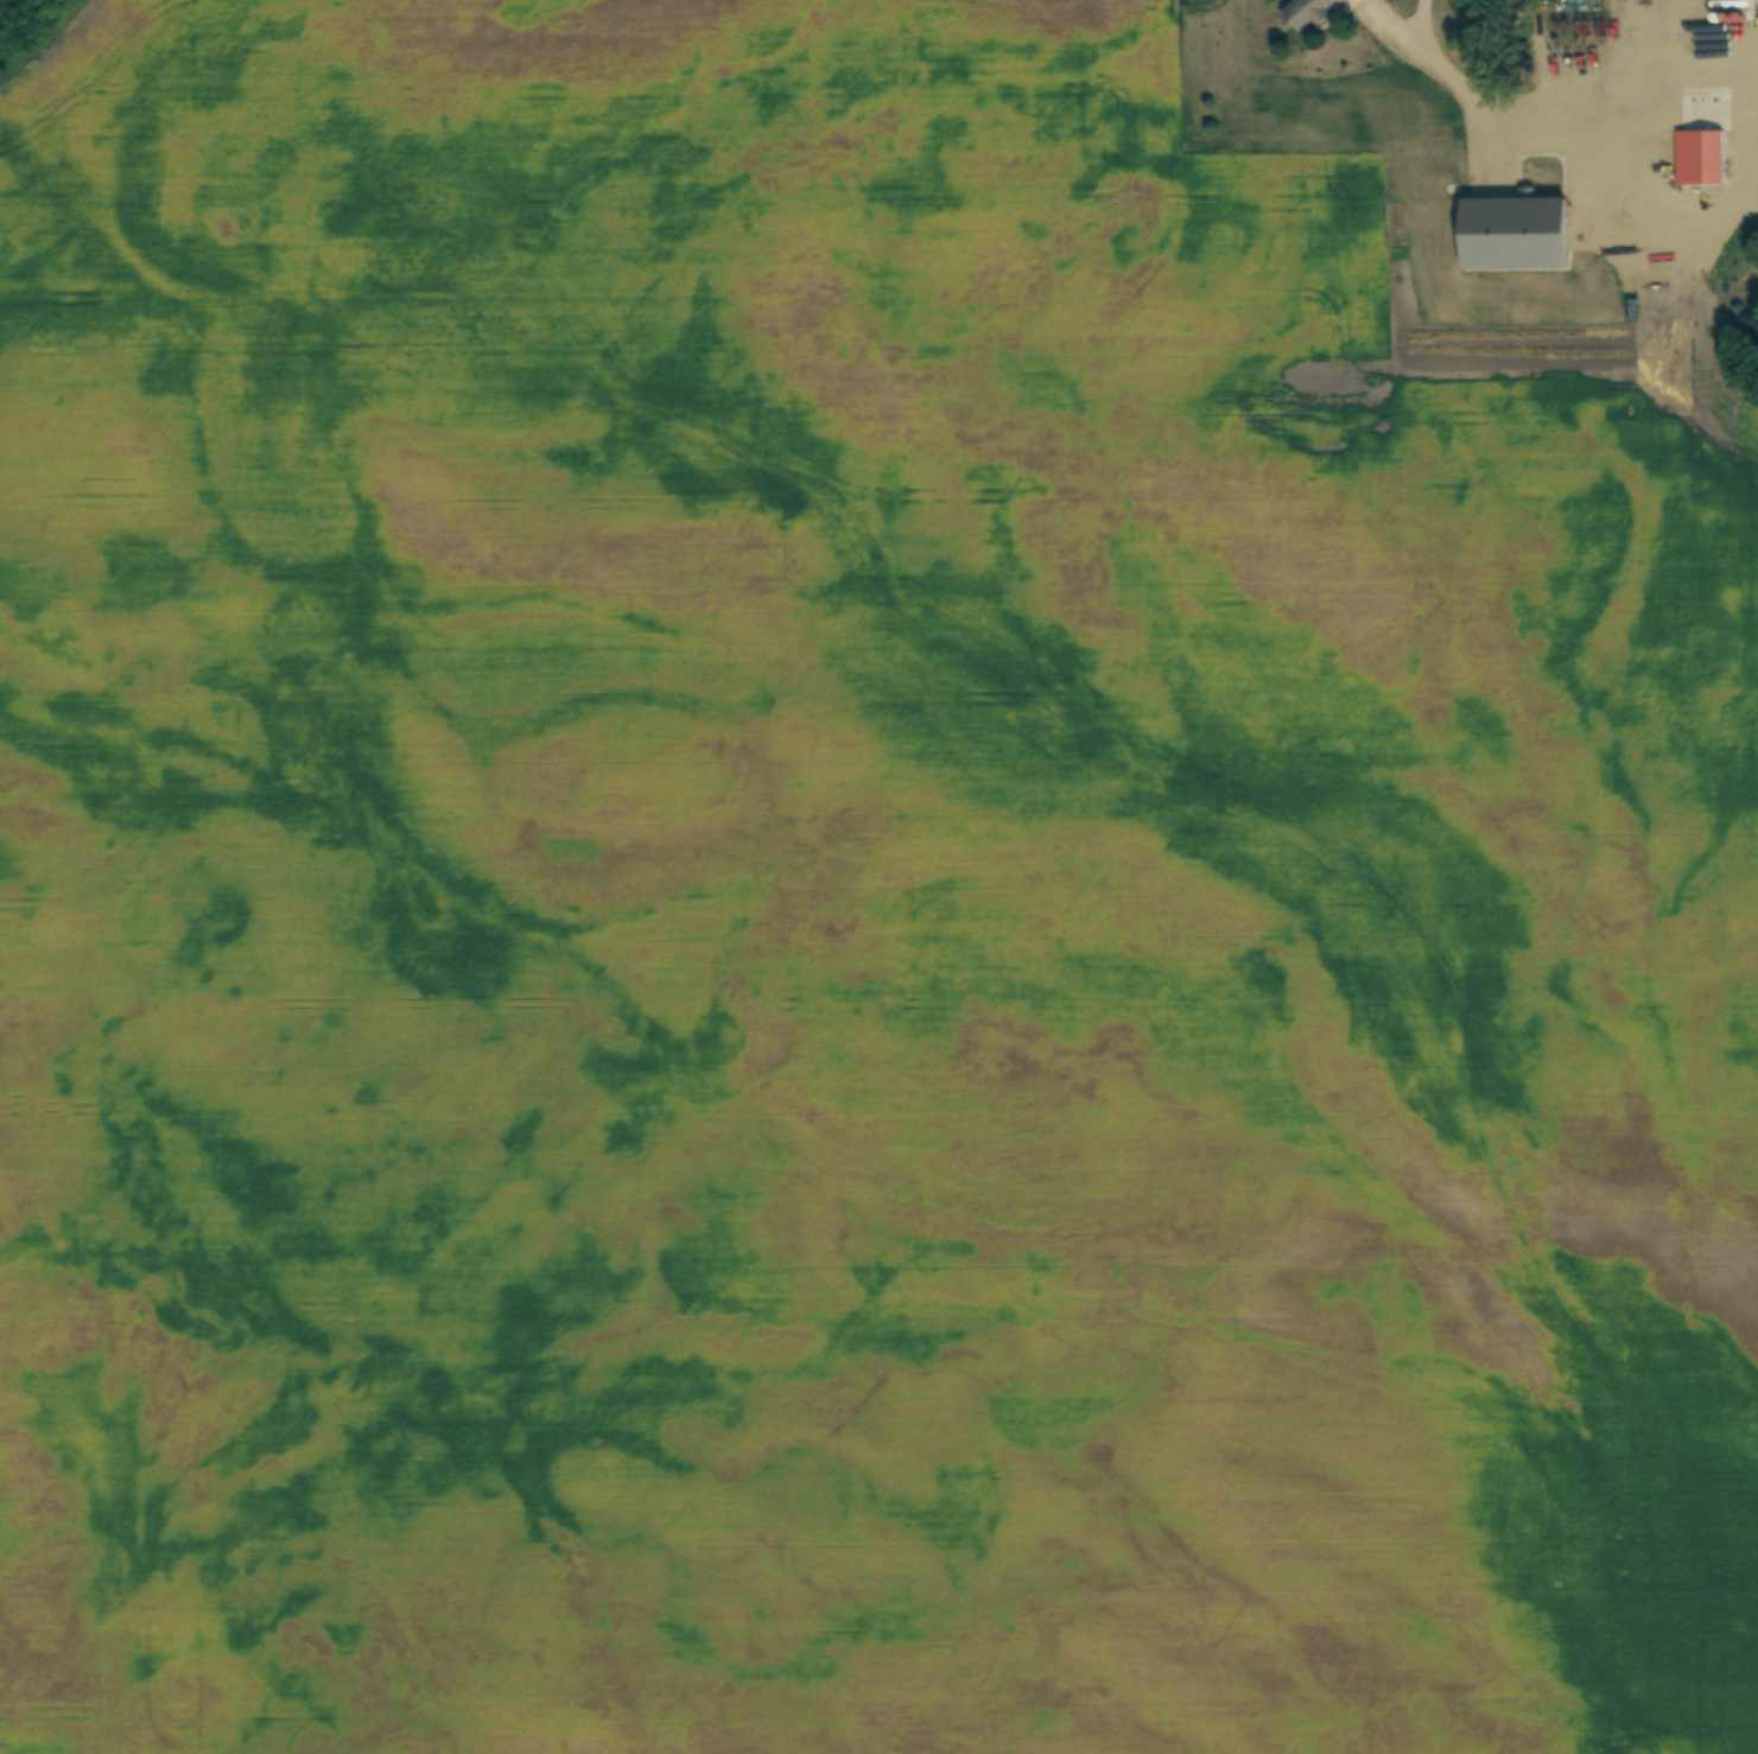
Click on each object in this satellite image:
building: (1307, 13)
building: (1750, 68)
road: (1561, 136)
building: (1706, 158)

